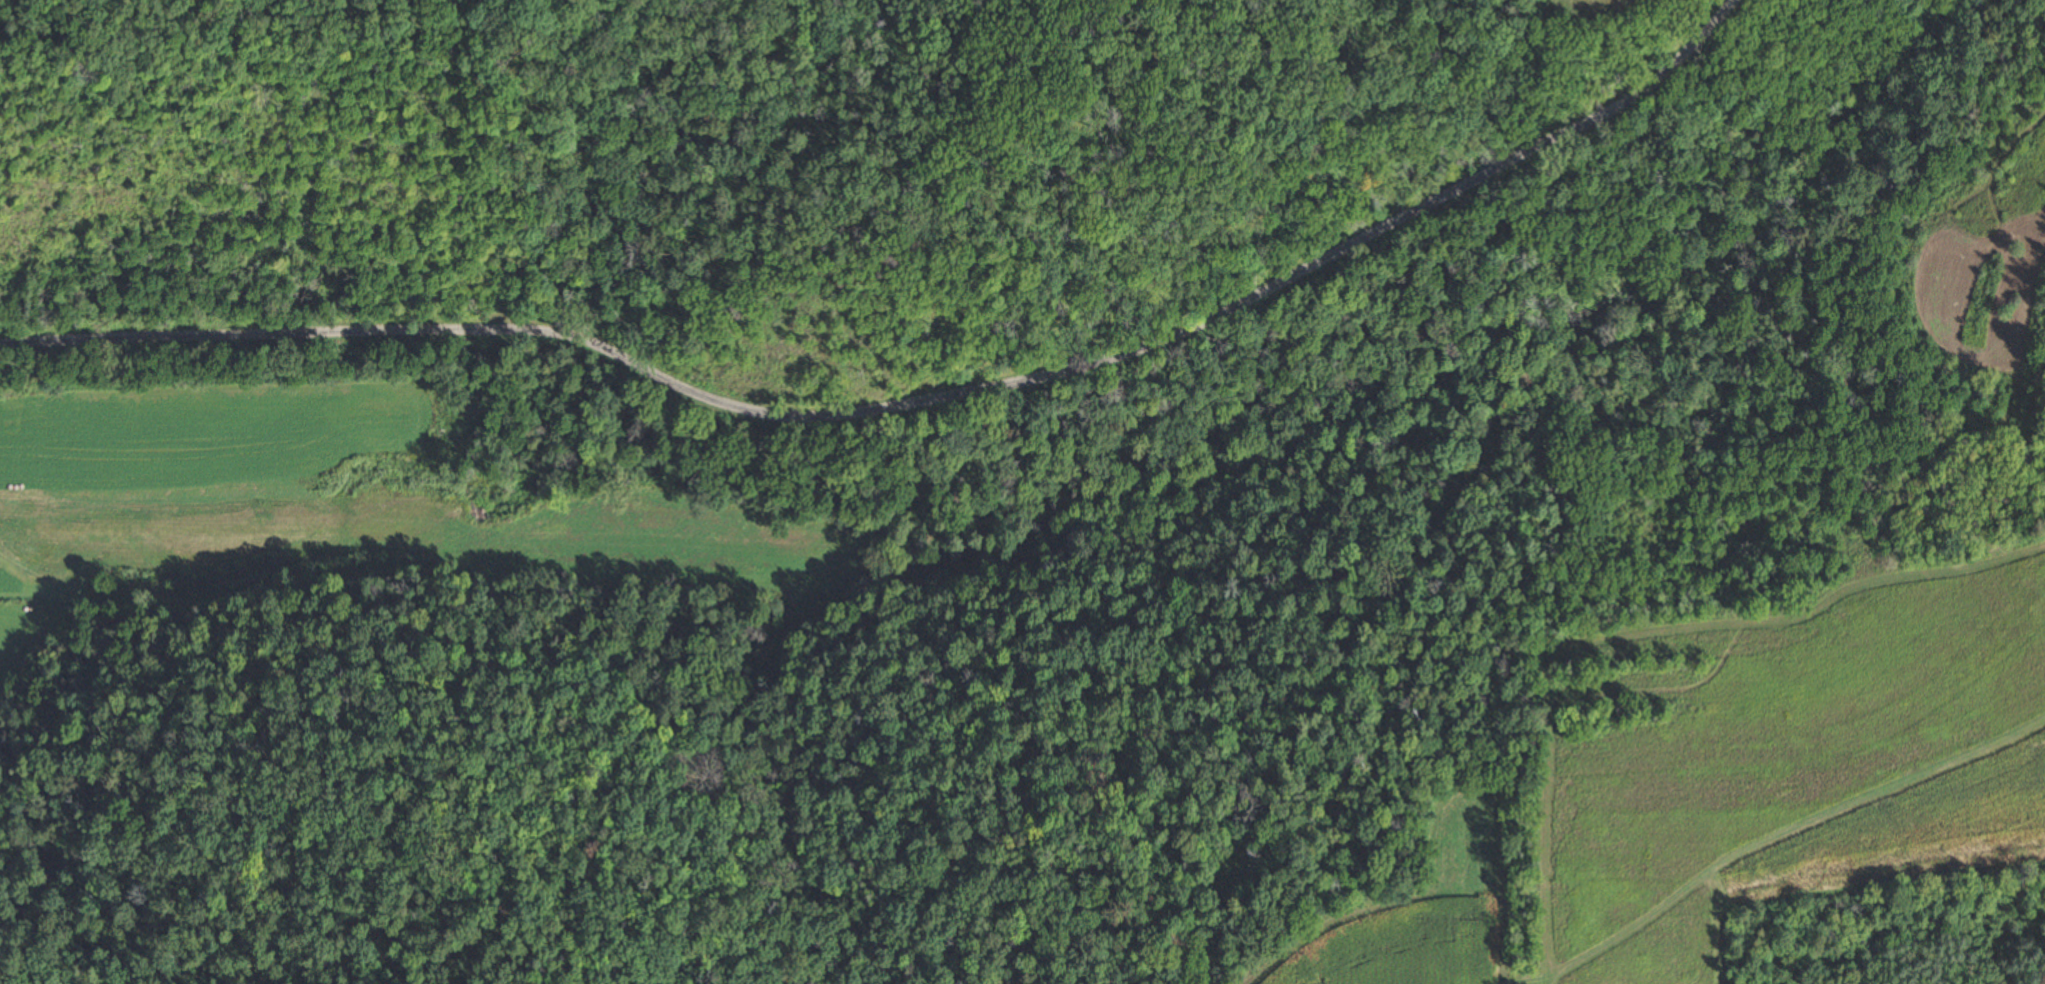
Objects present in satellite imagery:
road: (909, 402)

